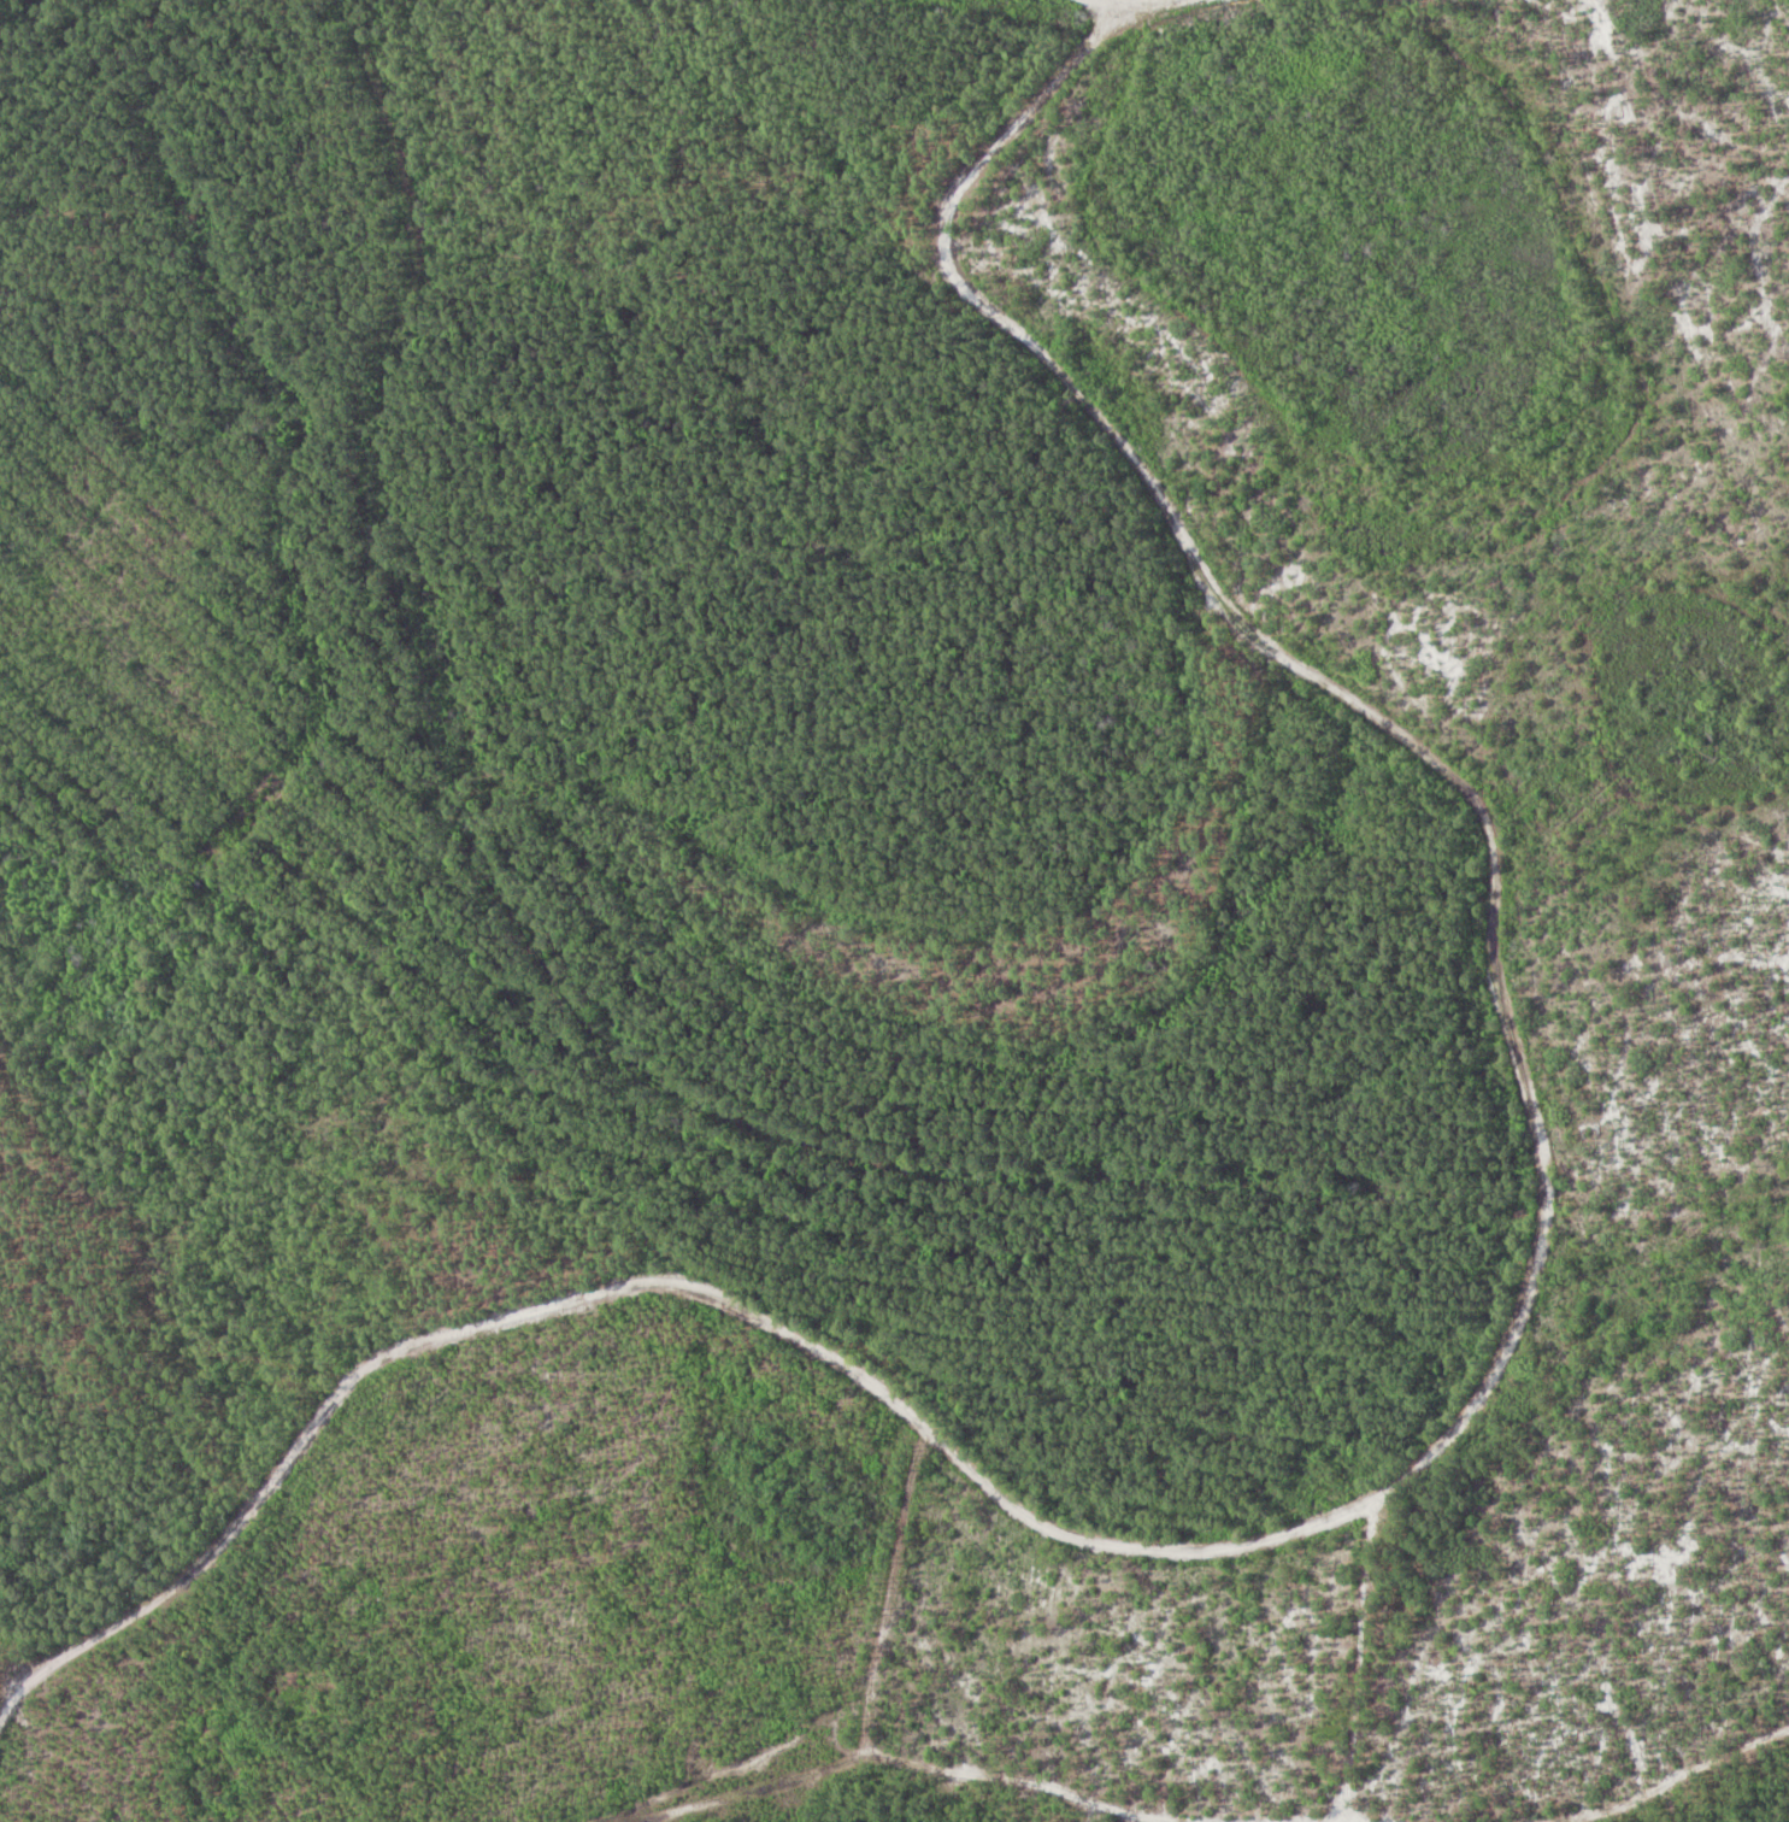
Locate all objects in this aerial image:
road: (1478, 1426)
road: (984, 1764)
road: (1658, 1780)

